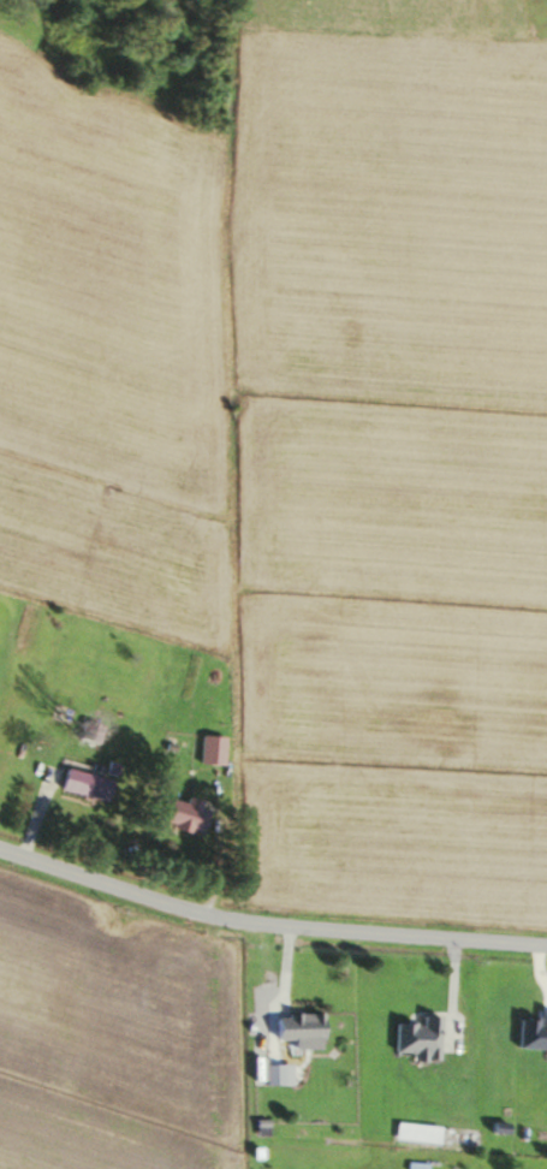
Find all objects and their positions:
building: (87, 730)
building: (208, 748)
building: (82, 783)
building: (183, 814)
road: (268, 930)
building: (295, 1025)
building: (415, 1039)

